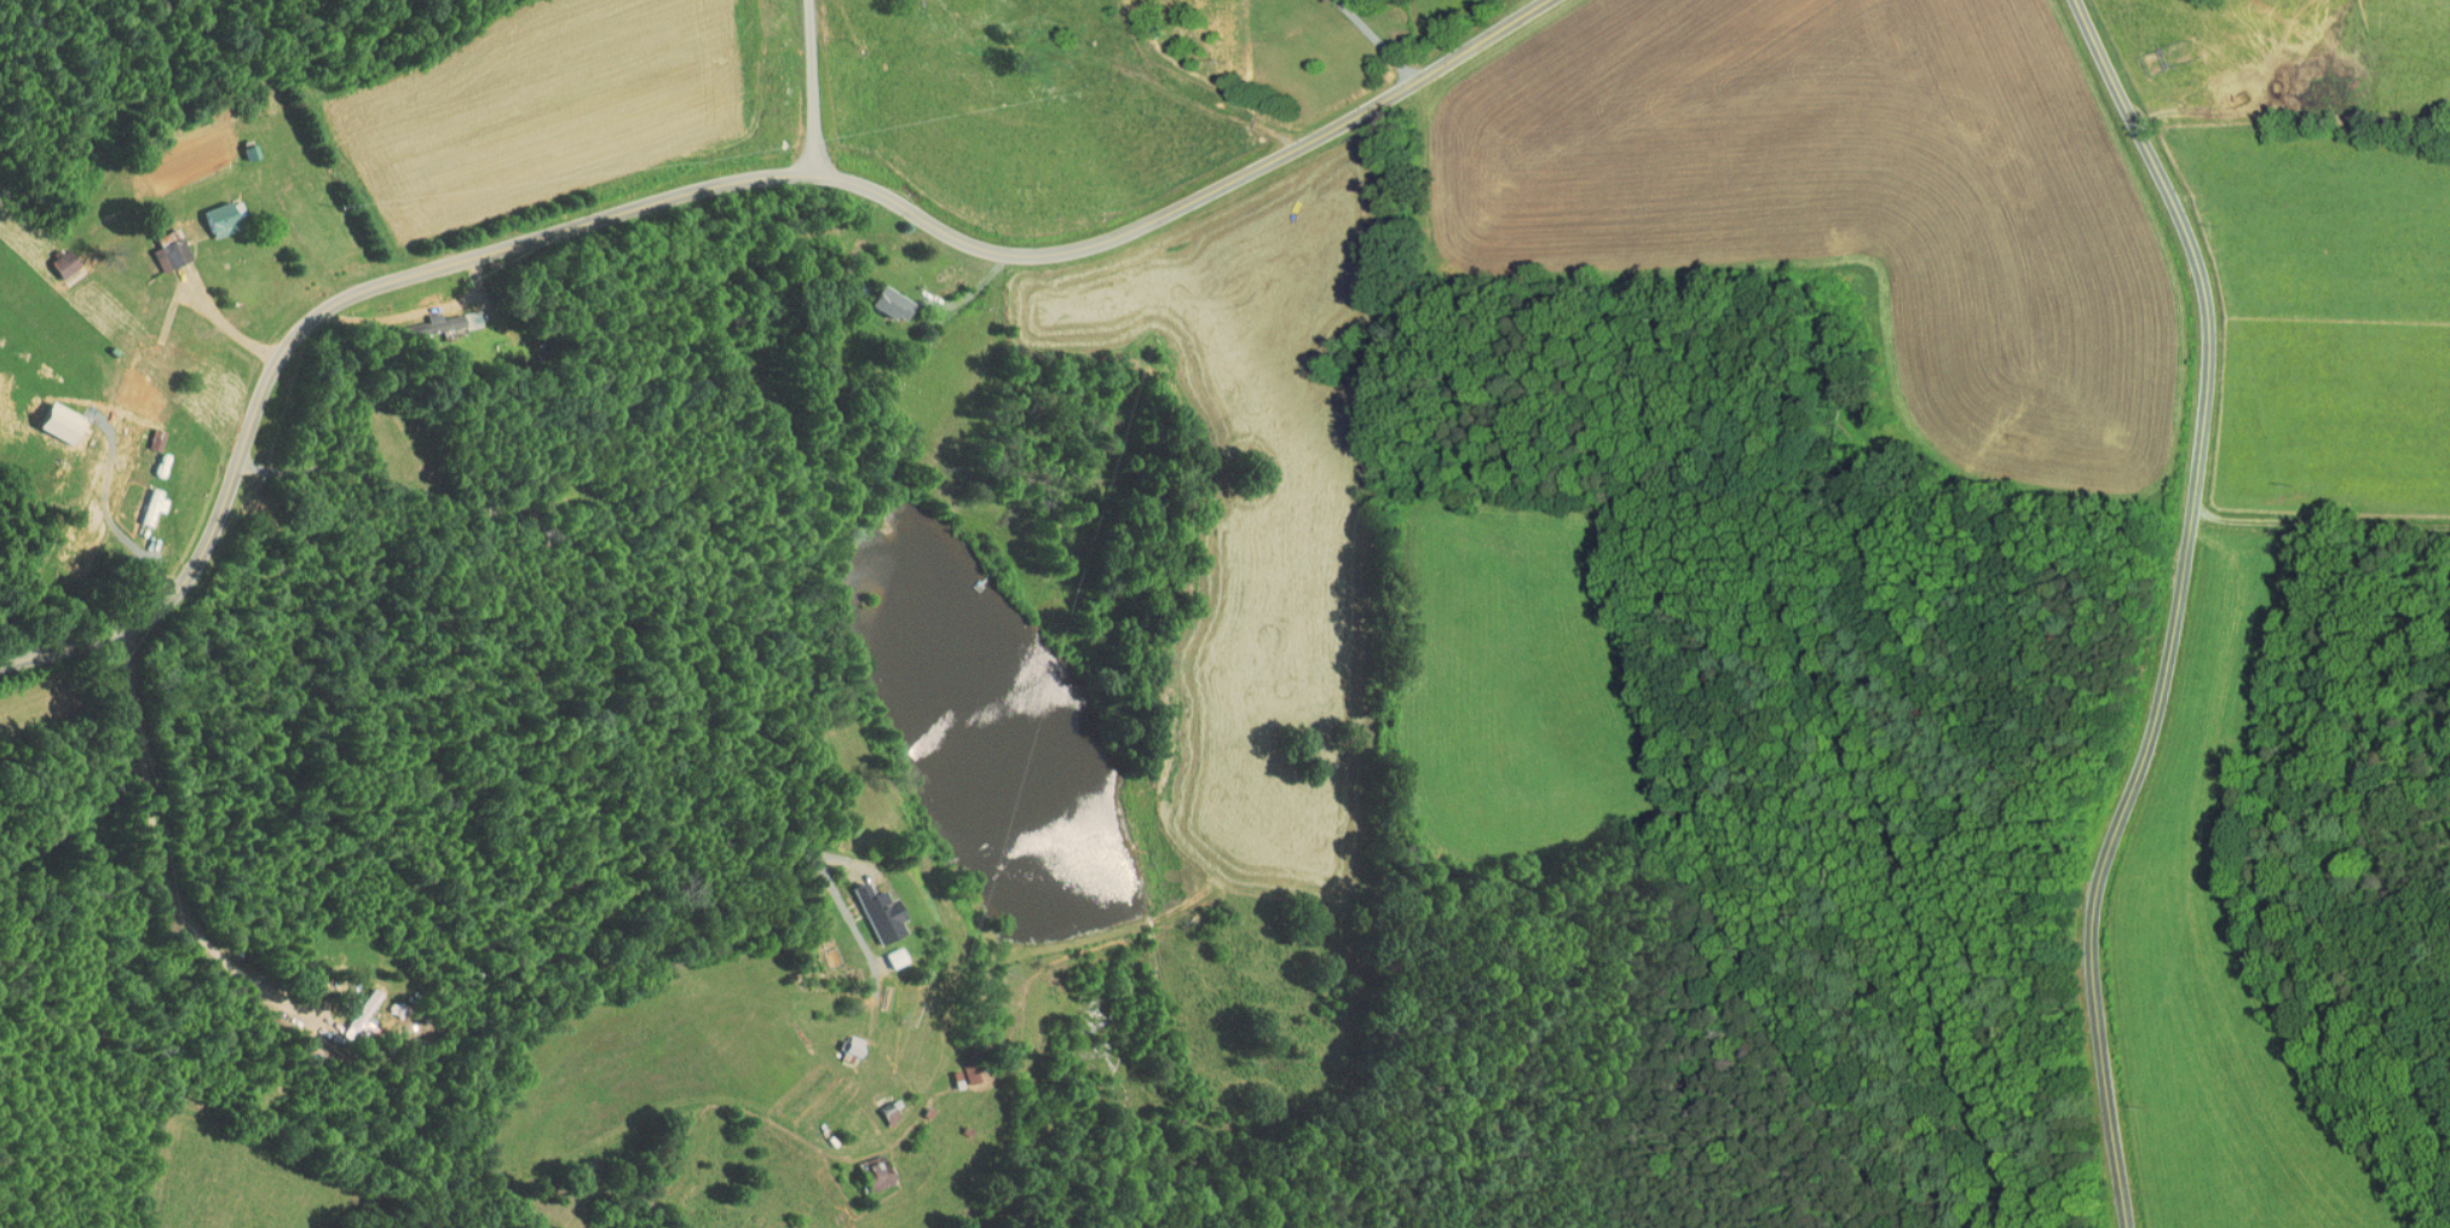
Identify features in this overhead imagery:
road: (1377, 39)
road: (794, 88)
road: (709, 188)
building: (208, 212)
building: (158, 246)
building: (53, 256)
building: (880, 295)
building: (431, 316)
building: (145, 432)
building: (140, 500)
road: (2318, 519)
road: (2174, 606)
road: (803, 652)
road: (161, 859)
building: (867, 906)
building: (883, 951)
building: (352, 1007)
building: (963, 1067)
building: (878, 1106)
building: (864, 1166)

